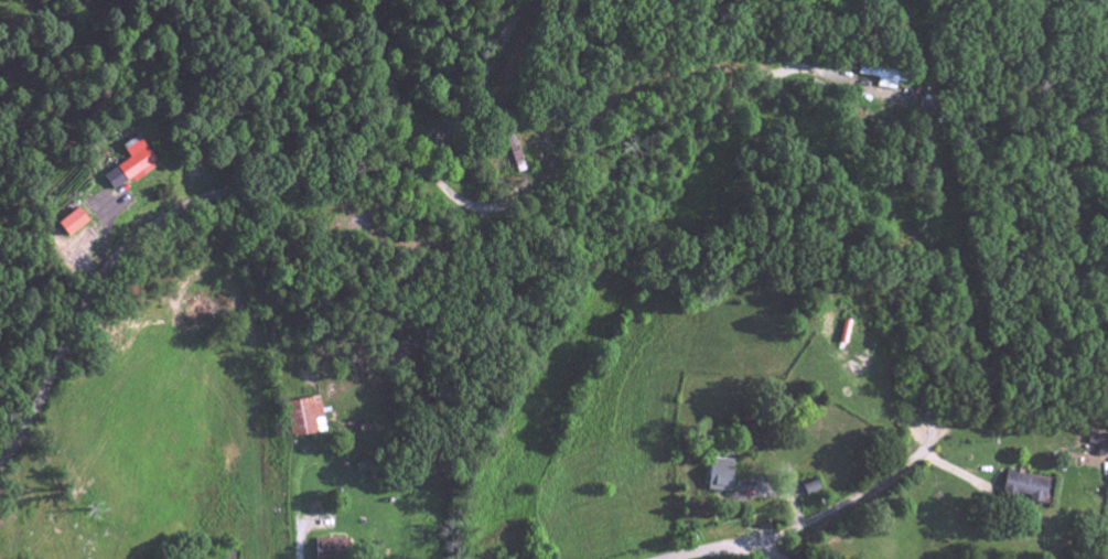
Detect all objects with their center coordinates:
building: (879, 78)
road: (617, 144)
building: (110, 170)
road: (238, 194)
building: (51, 226)
building: (303, 420)
building: (720, 477)
building: (1022, 490)
building: (810, 491)
road: (292, 504)
road: (852, 505)
building: (331, 550)
road: (724, 551)

